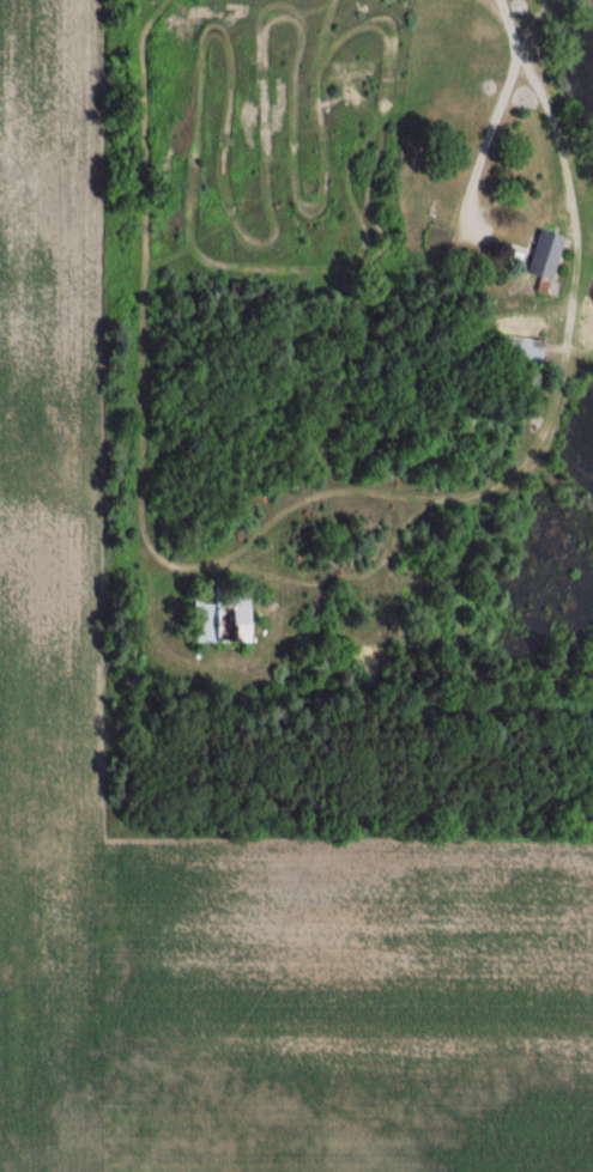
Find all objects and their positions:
road: (551, 162)
building: (540, 255)
building: (518, 351)
building: (218, 614)

